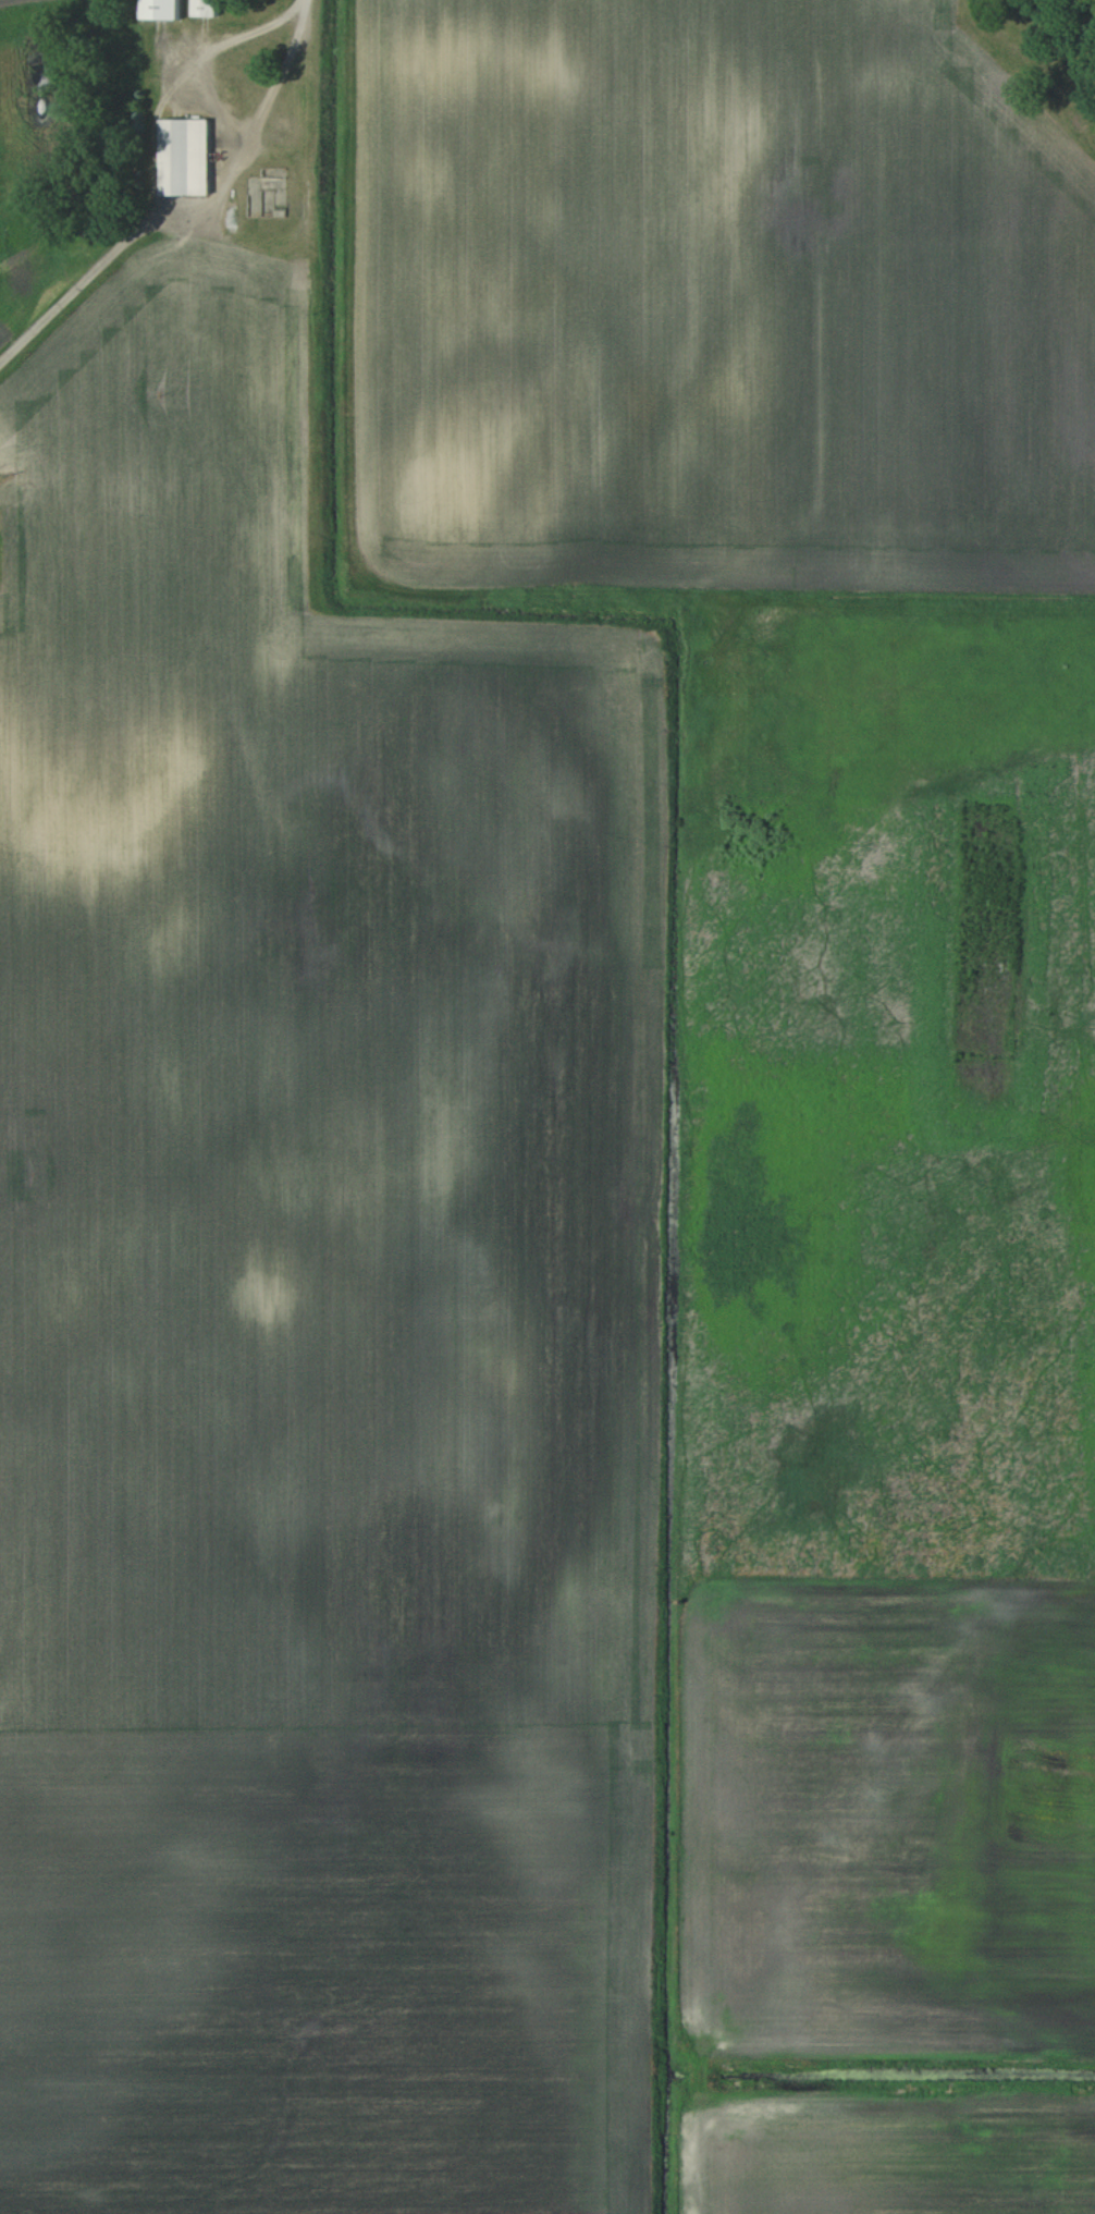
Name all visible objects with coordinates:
building: (200, 8)
building: (157, 10)
building: (180, 157)
road: (193, 213)

